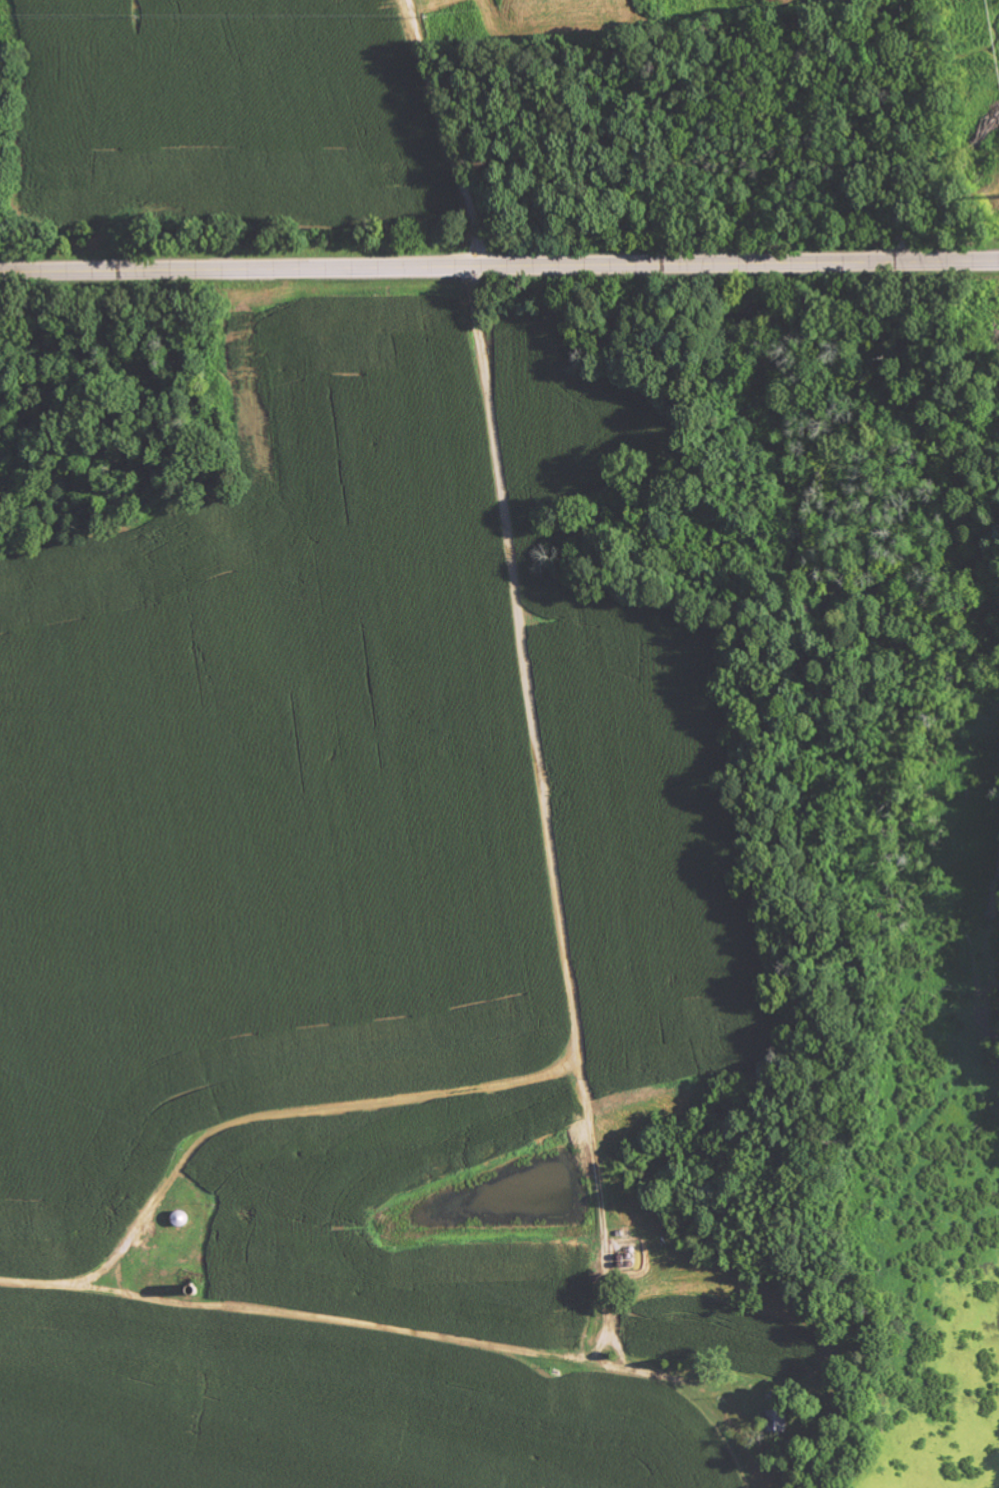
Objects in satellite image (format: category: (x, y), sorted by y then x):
road: (440, 131)
road: (499, 263)
road: (540, 760)
building: (781, 1421)

